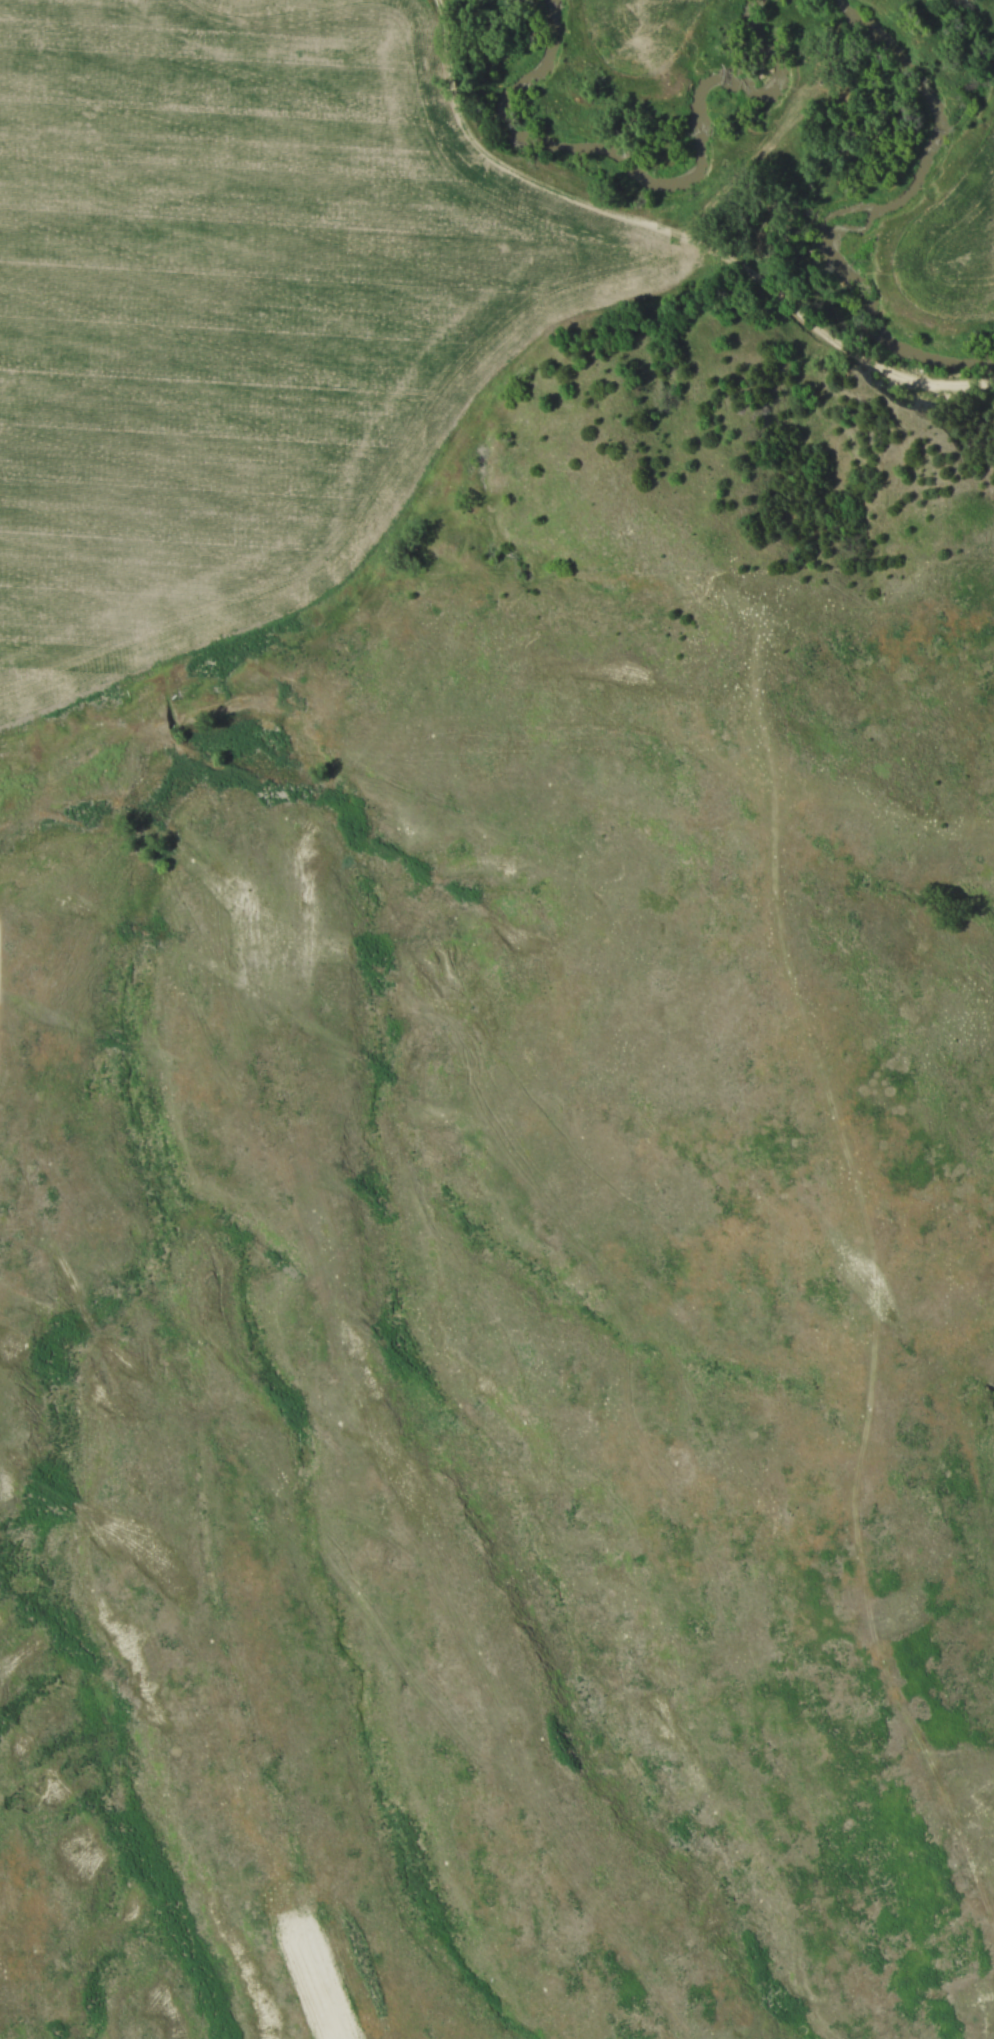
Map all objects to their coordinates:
crop: (644, 34)
crop: (953, 249)

